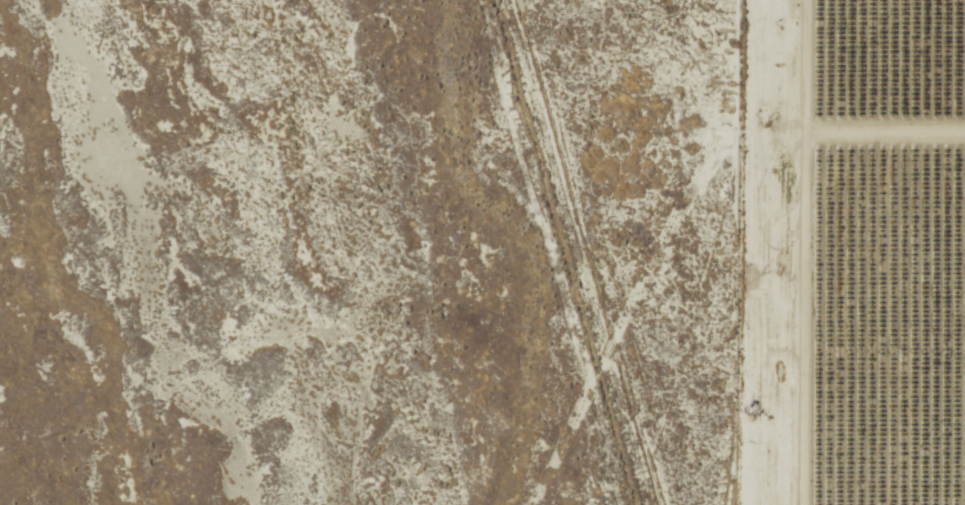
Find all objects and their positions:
road: (885, 168)
road: (804, 252)

